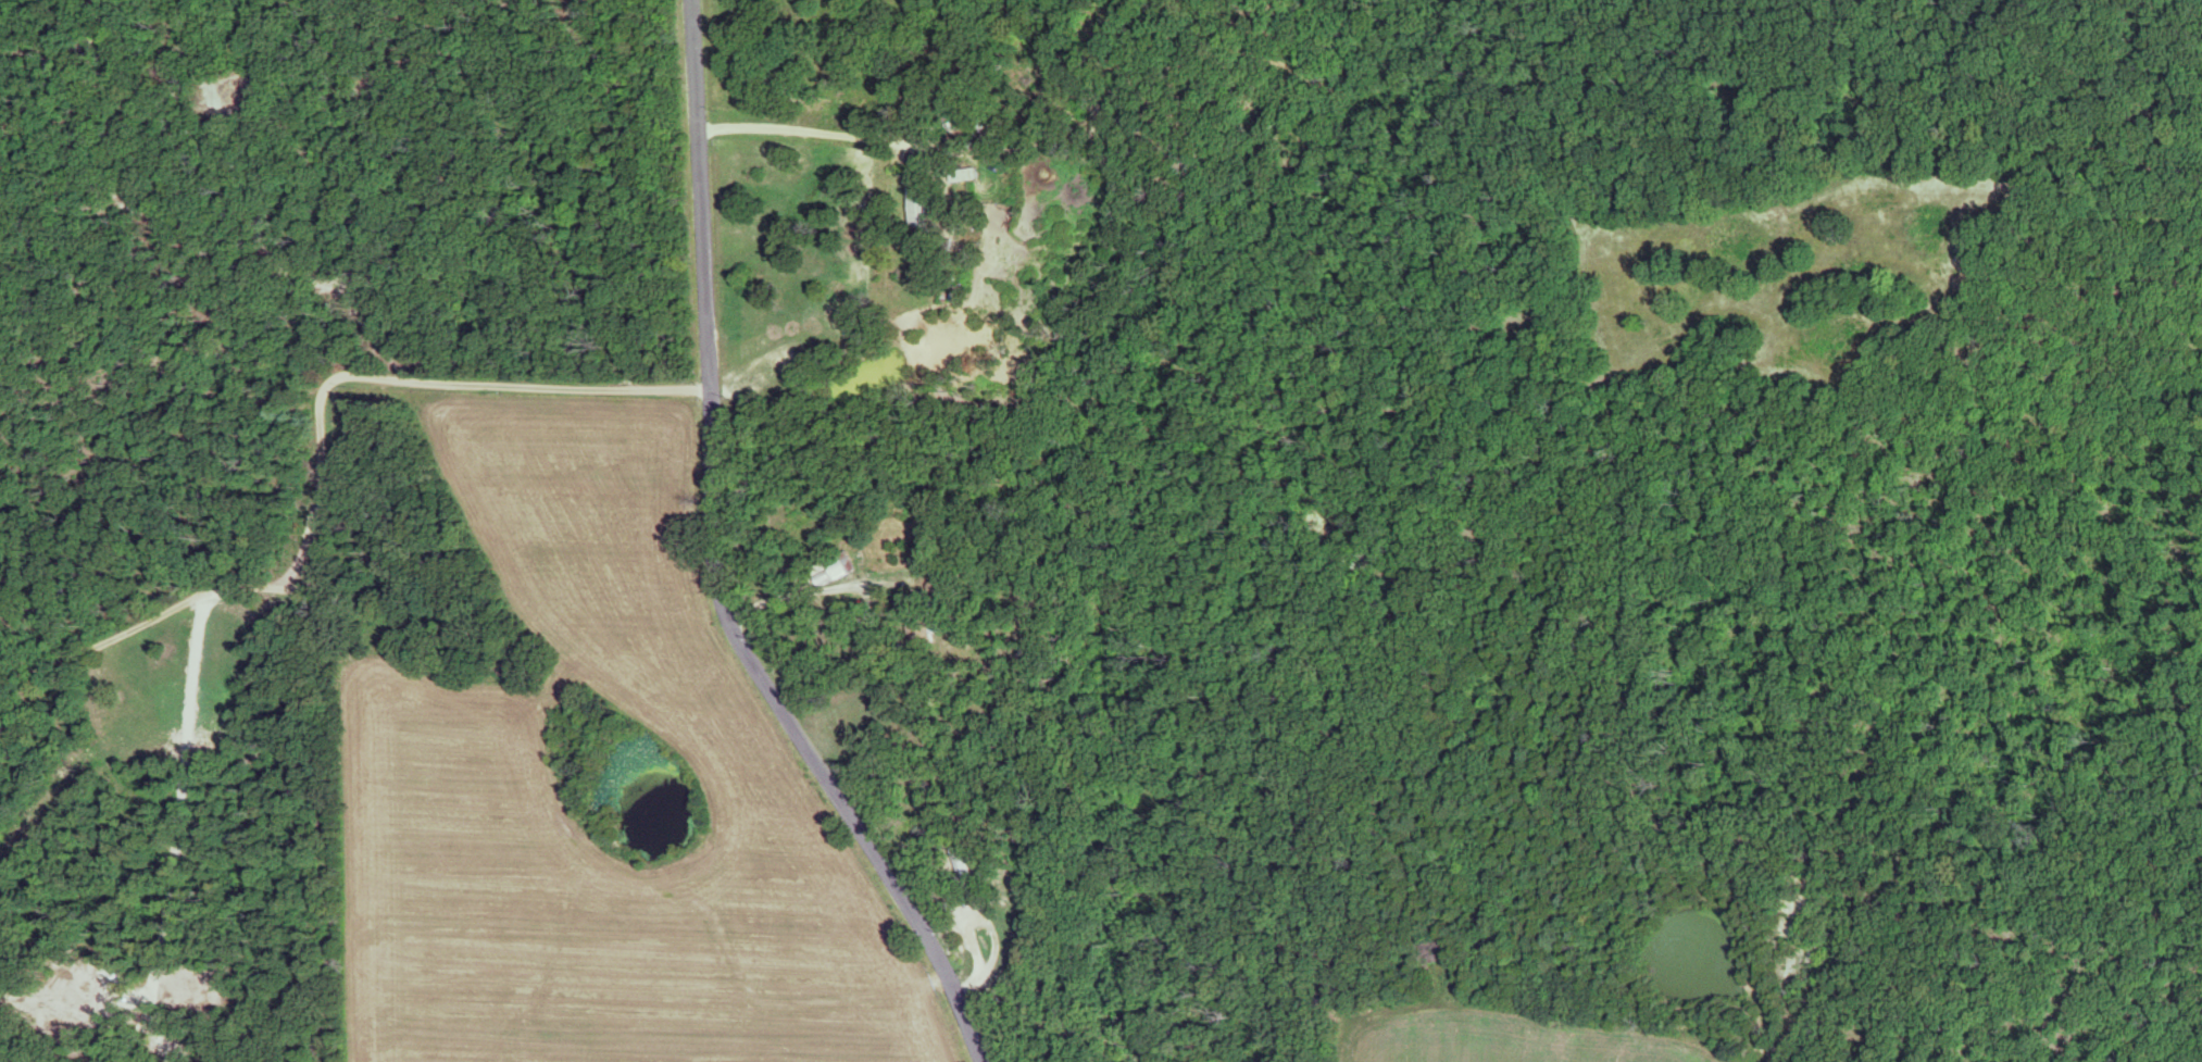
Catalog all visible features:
road: (883, 148)
building: (958, 176)
building: (910, 203)
road: (899, 353)
road: (321, 460)
road: (712, 565)
building: (831, 567)
road: (817, 603)
building: (958, 867)
road: (992, 951)

